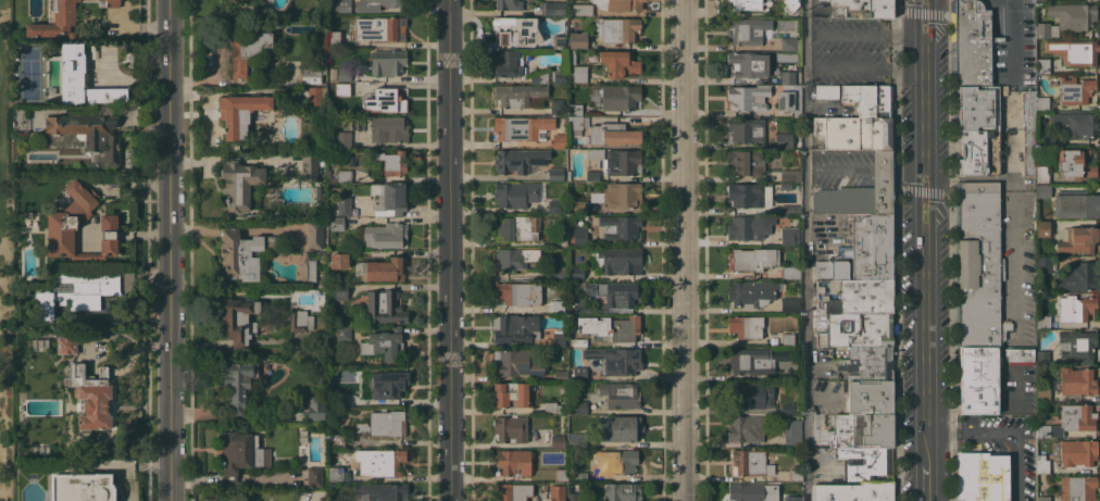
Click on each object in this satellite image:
building: (241, 1)
building: (386, 2)
building: (748, 3)
building: (509, 4)
building: (618, 4)
building: (790, 5)
building: (339, 7)
building: (553, 8)
parking lot: (820, 9)
building: (862, 9)
building: (580, 10)
road: (924, 13)
building: (1073, 15)
building: (64, 17)
building: (843, 24)
building: (379, 28)
building: (616, 29)
building: (747, 30)
building: (1042, 30)
building: (515, 32)
road: (866, 34)
building: (333, 38)
building: (577, 39)
road: (1016, 39)
building: (558, 41)
building: (970, 42)
building: (786, 43)
parking lot: (1014, 43)
building: (245, 50)
parking lot: (851, 51)
building: (871, 51)
building: (1080, 52)
building: (571, 57)
building: (132, 58)
building: (387, 62)
building: (618, 63)
building: (510, 64)
building: (749, 64)
building: (1043, 65)
road: (866, 67)
park: (29, 74)
building: (312, 74)
building: (333, 74)
building: (343, 74)
building: (579, 74)
building: (548, 76)
building: (787, 77)
building: (82, 79)
building: (337, 88)
building: (1003, 90)
building: (1075, 90)
building: (826, 91)
building: (520, 95)
building: (314, 96)
building: (620, 97)
building: (747, 97)
building: (789, 99)
building: (868, 99)
building: (386, 101)
building: (1041, 103)
building: (557, 107)
building: (837, 108)
building: (973, 108)
building: (574, 109)
building: (1028, 110)
building: (240, 113)
building: (18, 118)
building: (575, 122)
building: (339, 123)
building: (1076, 123)
building: (520, 127)
building: (388, 128)
building: (745, 130)
building: (854, 133)
building: (612, 134)
building: (86, 135)
building: (342, 140)
building: (558, 140)
building: (784, 140)
building: (1046, 141)
building: (1028, 151)
building: (977, 152)
building: (595, 153)
building: (518, 160)
building: (321, 161)
building: (390, 162)
building: (622, 162)
building: (746, 162)
building: (1075, 164)
building: (296, 165)
building: (309, 166)
parking lot: (841, 166)
road: (867, 168)
building: (327, 173)
building: (555, 174)
building: (1042, 174)
building: (568, 175)
building: (592, 175)
building: (790, 175)
building: (341, 176)
building: (241, 185)
building: (786, 185)
building: (1042, 190)
building: (860, 191)
road: (925, 191)
building: (318, 193)
building: (516, 193)
building: (620, 195)
building: (746, 195)
road: (1018, 197)
building: (387, 198)
building: (343, 205)
building: (555, 205)
building: (579, 205)
building: (1077, 205)
building: (790, 209)
building: (793, 220)
building: (336, 223)
building: (62, 224)
parking lot: (1017, 224)
building: (620, 226)
building: (749, 227)
building: (517, 228)
building: (1042, 228)
road: (924, 231)
building: (314, 234)
building: (580, 234)
building: (384, 235)
building: (789, 236)
parking lot: (829, 236)
building: (560, 239)
building: (1078, 240)
park: (3, 241)
building: (872, 246)
road: (168, 250)
road: (448, 250)
road: (682, 250)
road: (810, 250)
building: (241, 253)
building: (320, 254)
building: (515, 258)
building: (752, 259)
building: (620, 260)
building: (338, 261)
building: (1043, 264)
building: (979, 265)
building: (308, 270)
building: (383, 270)
building: (830, 270)
building: (560, 272)
building: (790, 272)
building: (576, 273)
building: (1077, 276)
building: (77, 291)
building: (338, 291)
building: (614, 292)
building: (751, 292)
building: (517, 293)
building: (558, 304)
building: (790, 304)
building: (384, 306)
building: (1075, 308)
building: (579, 309)
building: (590, 309)
building: (854, 313)
building: (238, 318)
building: (300, 321)
building: (1043, 322)
building: (592, 326)
building: (746, 326)
building: (515, 327)
building: (625, 328)
building: (342, 333)
building: (559, 338)
building: (788, 339)
building: (579, 342)
building: (384, 343)
building: (66, 345)
building: (1077, 345)
building: (1020, 355)
building: (1042, 356)
building: (616, 360)
building: (750, 361)
building: (517, 363)
building: (867, 363)
parking lot: (824, 365)
building: (579, 373)
building: (793, 374)
building: (561, 375)
building: (978, 378)
building: (238, 383)
building: (1076, 383)
building: (388, 384)
parking lot: (1017, 391)
building: (622, 393)
building: (1042, 393)
building: (511, 394)
building: (752, 394)
building: (91, 397)
parking lot: (828, 397)
building: (870, 397)
building: (338, 398)
road: (825, 398)
building: (21, 404)
building: (315, 406)
building: (577, 406)
building: (552, 408)
building: (788, 408)
building: (797, 408)
building: (1077, 416)
building: (248, 418)
building: (384, 424)
building: (510, 428)
building: (746, 428)
building: (618, 429)
building: (862, 430)
building: (1050, 430)
building: (792, 433)
road: (1002, 433)
building: (336, 439)
building: (557, 440)
parking lot: (820, 448)
parking lot: (1005, 449)
building: (1077, 452)
building: (241, 453)
building: (616, 460)
building: (387, 462)
building: (514, 462)
building: (825, 462)
building: (750, 463)
building: (866, 463)
building: (1042, 464)
building: (336, 474)
building: (796, 474)
building: (561, 475)
building: (314, 476)
building: (580, 476)
building: (982, 476)
road: (925, 483)
building: (83, 487)
building: (1077, 488)
building: (383, 491)
building: (512, 491)
building: (623, 491)
building: (853, 491)
building: (557, 492)
building: (752, 492)
building: (574, 497)
building: (793, 498)
building: (1043, 498)
building: (336, 500)

